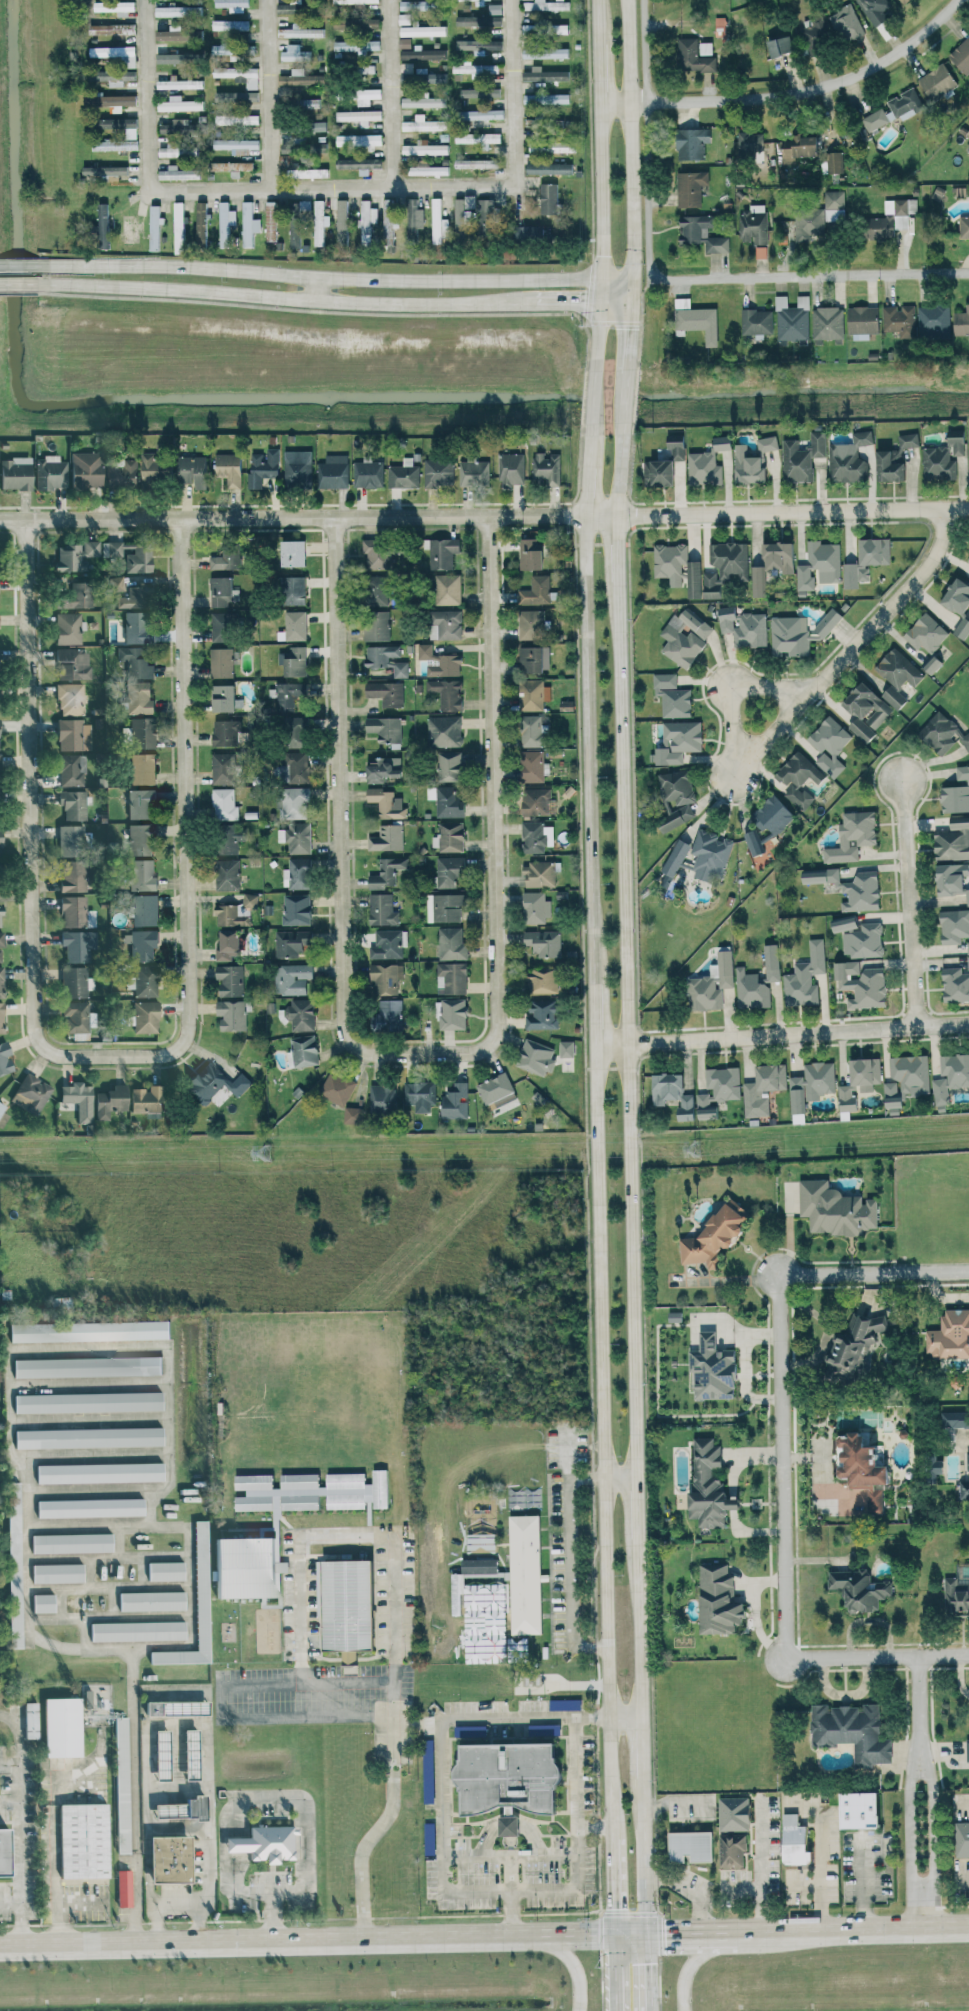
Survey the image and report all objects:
building: (464, 0)
building: (351, 1)
building: (903, 1)
building: (232, 5)
building: (418, 5)
building: (546, 5)
building: (115, 7)
building: (495, 8)
building: (875, 10)
building: (178, 11)
building: (404, 18)
building: (472, 20)
building: (495, 21)
building: (230, 24)
building: (846, 24)
building: (545, 27)
building: (111, 28)
building: (423, 30)
building: (300, 31)
building: (180, 33)
building: (815, 35)
building: (356, 45)
building: (480, 45)
building: (780, 46)
building: (232, 49)
building: (418, 51)
building: (545, 52)
building: (295, 53)
building: (116, 54)
building: (173, 54)
building: (694, 55)
building: (961, 55)
building: (368, 68)
building: (477, 69)
building: (238, 74)
building: (546, 75)
building: (118, 77)
building: (301, 77)
building: (424, 78)
building: (937, 81)
building: (179, 83)
building: (480, 92)
road: (791, 94)
building: (367, 95)
road: (397, 95)
building: (235, 96)
road: (271, 96)
building: (546, 98)
building: (110, 99)
building: (424, 101)
building: (906, 103)
building: (179, 104)
building: (482, 114)
building: (359, 116)
building: (236, 119)
building: (876, 119)
building: (424, 124)
building: (318, 125)
building: (181, 128)
building: (132, 133)
building: (478, 137)
building: (359, 139)
road: (628, 139)
road: (645, 140)
building: (750, 142)
building: (692, 143)
building: (236, 145)
building: (305, 146)
building: (549, 146)
building: (797, 147)
building: (424, 148)
building: (968, 148)
building: (180, 150)
building: (475, 161)
building: (833, 161)
building: (359, 163)
building: (232, 167)
building: (426, 168)
building: (549, 168)
building: (105, 170)
building: (308, 171)
building: (179, 173)
road: (598, 185)
building: (690, 187)
road: (333, 191)
building: (548, 198)
building: (834, 205)
building: (461, 214)
building: (487, 214)
building: (891, 218)
building: (342, 220)
building: (102, 221)
building: (270, 221)
building: (367, 221)
building: (225, 222)
building: (321, 222)
building: (414, 222)
building: (438, 222)
building: (389, 223)
building: (201, 224)
building: (249, 224)
building: (754, 224)
building: (809, 224)
building: (179, 227)
building: (964, 227)
building: (130, 228)
building: (155, 228)
building: (530, 232)
building: (701, 233)
road: (18, 264)
road: (813, 276)
road: (332, 277)
traffic signals: (600, 280)
traffic signals: (630, 280)
road: (18, 286)
road: (318, 289)
road: (629, 290)
road: (283, 297)
traffic signals: (629, 301)
road: (614, 302)
road: (565, 303)
traffic signals: (599, 303)
building: (792, 318)
building: (696, 319)
building: (900, 320)
building: (862, 321)
building: (934, 321)
building: (757, 322)
building: (961, 322)
building: (828, 323)
road: (627, 335)
road: (624, 402)
road: (593, 403)
building: (908, 440)
building: (722, 443)
building: (767, 443)
building: (802, 457)
building: (849, 459)
building: (942, 460)
building: (263, 466)
building: (664, 466)
building: (748, 466)
building: (889, 467)
building: (230, 468)
building: (546, 468)
building: (154, 469)
building: (298, 469)
building: (511, 469)
building: (704, 469)
building: (86, 470)
building: (193, 471)
building: (51, 472)
building: (333, 472)
building: (439, 472)
building: (16, 473)
building: (474, 473)
road: (619, 473)
building: (368, 474)
building: (404, 474)
building: (123, 475)
road: (792, 510)
road: (308, 516)
road: (617, 551)
building: (443, 552)
building: (294, 553)
building: (375, 553)
building: (532, 553)
building: (130, 554)
building: (75, 555)
building: (779, 556)
building: (227, 557)
building: (968, 559)
building: (867, 560)
building: (819, 564)
building: (724, 566)
building: (677, 567)
building: (757, 581)
building: (379, 589)
building: (447, 589)
building: (294, 590)
building: (536, 590)
building: (222, 591)
building: (77, 595)
building: (957, 596)
building: (136, 597)
road: (883, 609)
building: (828, 622)
building: (446, 624)
building: (532, 624)
building: (295, 625)
building: (377, 625)
building: (224, 626)
building: (68, 627)
building: (138, 627)
building: (744, 627)
building: (962, 628)
building: (926, 633)
building: (685, 636)
building: (789, 636)
building: (424, 651)
building: (381, 655)
building: (534, 658)
building: (294, 661)
building: (136, 662)
building: (222, 662)
building: (73, 663)
building: (932, 663)
building: (446, 665)
building: (401, 669)
building: (898, 669)
road: (729, 684)
building: (387, 693)
building: (448, 693)
building: (534, 694)
building: (291, 695)
building: (672, 695)
building: (894, 697)
building: (71, 698)
building: (139, 698)
building: (224, 698)
building: (867, 705)
road: (730, 726)
building: (385, 728)
building: (534, 730)
building: (297, 731)
building: (444, 731)
building: (228, 732)
building: (143, 733)
building: (942, 733)
building: (73, 735)
building: (679, 741)
building: (829, 744)
building: (0, 749)
road: (736, 760)
building: (450, 765)
building: (535, 766)
building: (299, 767)
building: (143, 768)
building: (224, 768)
building: (383, 768)
building: (72, 769)
building: (0, 770)
building: (798, 778)
building: (956, 793)
building: (676, 797)
building: (537, 801)
building: (140, 802)
building: (295, 802)
building: (448, 802)
building: (224, 803)
building: (386, 803)
building: (73, 804)
road: (336, 815)
road: (30, 817)
road: (492, 819)
road: (183, 820)
building: (767, 823)
building: (451, 836)
building: (537, 836)
building: (852, 836)
building: (296, 837)
building: (387, 838)
building: (141, 839)
building: (71, 840)
building: (953, 840)
building: (1, 841)
building: (710, 854)
building: (676, 857)
building: (449, 870)
building: (387, 872)
building: (298, 873)
building: (540, 874)
building: (142, 875)
building: (228, 875)
building: (74, 876)
building: (952, 879)
building: (849, 887)
road: (910, 901)
building: (445, 907)
building: (536, 907)
building: (297, 909)
building: (145, 910)
building: (383, 910)
building: (76, 911)
building: (237, 911)
building: (1, 916)
building: (844, 923)
building: (954, 926)
building: (1, 941)
building: (863, 941)
building: (293, 943)
building: (452, 943)
building: (544, 943)
building: (144, 944)
building: (388, 944)
building: (78, 945)
building: (229, 945)
building: (772, 962)
building: (725, 968)
building: (805, 976)
building: (292, 978)
building: (386, 978)
building: (452, 978)
building: (146, 980)
building: (230, 980)
building: (542, 981)
building: (2, 982)
building: (76, 982)
building: (861, 983)
building: (955, 984)
building: (751, 989)
building: (704, 992)
building: (453, 1013)
building: (300, 1014)
building: (387, 1014)
building: (543, 1014)
building: (232, 1015)
building: (145, 1016)
building: (78, 1017)
building: (2, 1018)
road: (943, 1023)
road: (626, 1034)
road: (755, 1035)
building: (566, 1048)
building: (304, 1050)
building: (536, 1057)
building: (5, 1058)
building: (911, 1073)
building: (950, 1076)
building: (859, 1081)
building: (215, 1083)
building: (811, 1084)
building: (337, 1088)
building: (763, 1089)
building: (718, 1090)
building: (32, 1093)
building: (498, 1093)
building: (673, 1093)
building: (892, 1094)
building: (421, 1096)
building: (79, 1099)
building: (147, 1099)
building: (382, 1099)
building: (111, 1100)
building: (455, 1102)
building: (3, 1115)
building: (353, 1115)
power tower: (696, 1148)
power tower: (268, 1150)
road: (597, 1191)
building: (835, 1209)
building: (713, 1238)
road: (942, 1273)
building: (90, 1331)
building: (950, 1336)
building: (852, 1345)
building: (88, 1366)
building: (712, 1369)
building: (88, 1401)
building: (957, 1419)
building: (89, 1437)
building: (967, 1461)
road: (783, 1466)
building: (863, 1467)
building: (100, 1472)
road: (619, 1480)
building: (709, 1485)
building: (964, 1488)
building: (312, 1491)
building: (90, 1507)
road: (634, 1508)
building: (72, 1542)
building: (15, 1564)
building: (246, 1567)
road: (569, 1567)
building: (166, 1571)
building: (58, 1573)
building: (525, 1574)
building: (202, 1585)
building: (860, 1589)
building: (456, 1595)
building: (957, 1595)
building: (719, 1599)
building: (152, 1600)
building: (47, 1602)
building: (350, 1605)
road: (396, 1618)
road: (637, 1626)
building: (138, 1631)
road: (944, 1655)
road: (311, 1682)
parking lot: (306, 1695)
building: (88, 1698)
building: (177, 1707)
road: (919, 1709)
road: (310, 1711)
road: (624, 1716)
road: (592, 1717)
road: (506, 1718)
building: (31, 1720)
road: (176, 1722)
building: (62, 1727)
building: (853, 1731)
road: (15, 1739)
road: (639, 1747)
building: (967, 1749)
building: (192, 1754)
building: (163, 1755)
building: (513, 1778)
building: (122, 1784)
road: (134, 1798)
road: (289, 1800)
building: (183, 1808)
building: (860, 1809)
building: (734, 1813)
road: (594, 1824)
road: (912, 1824)
road: (929, 1824)
building: (509, 1825)
building: (962, 1839)
building: (84, 1841)
building: (795, 1841)
building: (272, 1844)
road: (19, 1845)
building: (691, 1846)
building: (732, 1850)
building: (4, 1852)
road: (50, 1854)
road: (642, 1855)
building: (171, 1859)
road: (819, 1868)
road: (762, 1869)
road: (863, 1883)
building: (124, 1888)
road: (690, 1890)
road: (508, 1897)
road: (10, 1900)
road: (175, 1902)
road: (922, 1906)
traffic signals: (612, 1907)
road: (509, 1916)
traffic signals: (665, 1934)
road: (484, 1935)
road: (701, 1951)
traffic signals: (644, 1963)
road: (572, 1964)
road: (644, 1972)
road: (613, 1979)

